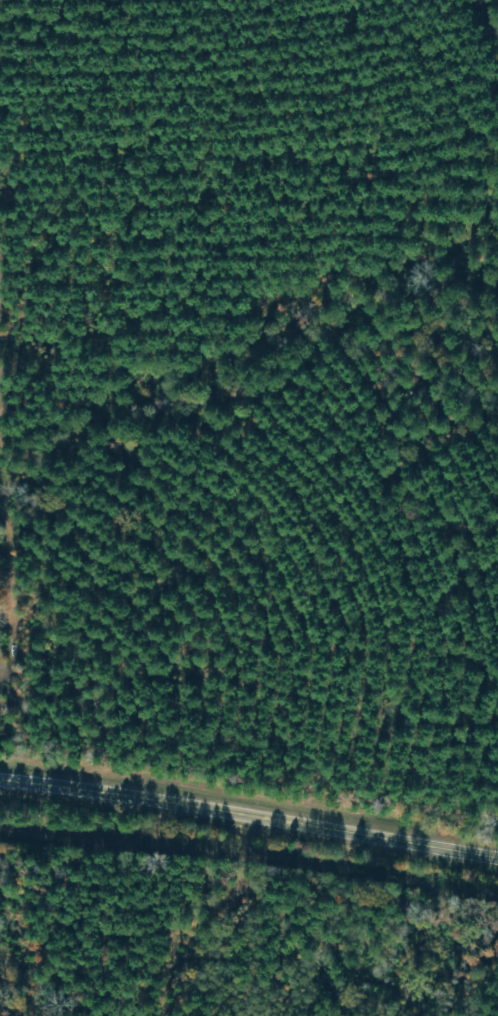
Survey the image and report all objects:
road: (249, 817)

